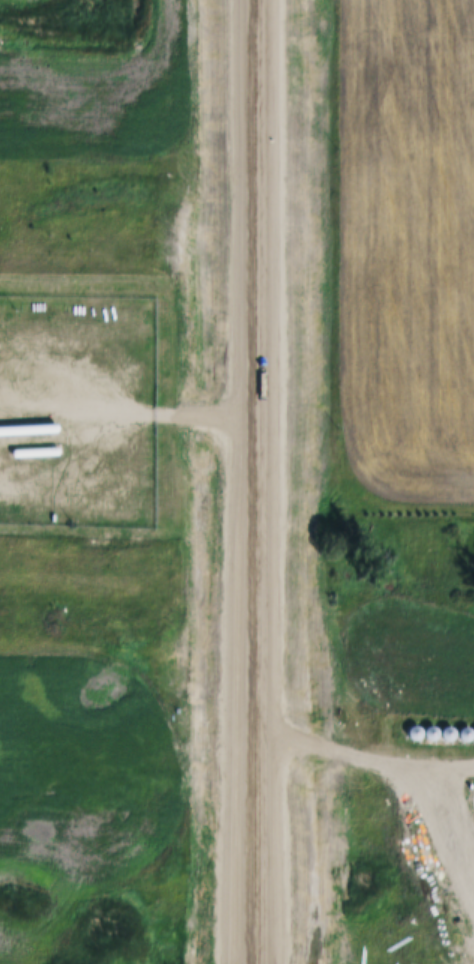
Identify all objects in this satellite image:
building: (3, 335)
storage tank: (36, 443)
road: (257, 481)
building: (414, 725)
silo: (414, 725)
building: (430, 725)
silo: (430, 725)
building: (447, 726)
silo: (447, 726)
building: (464, 727)
silo: (464, 727)
road: (309, 741)
road: (415, 768)
road: (418, 815)

